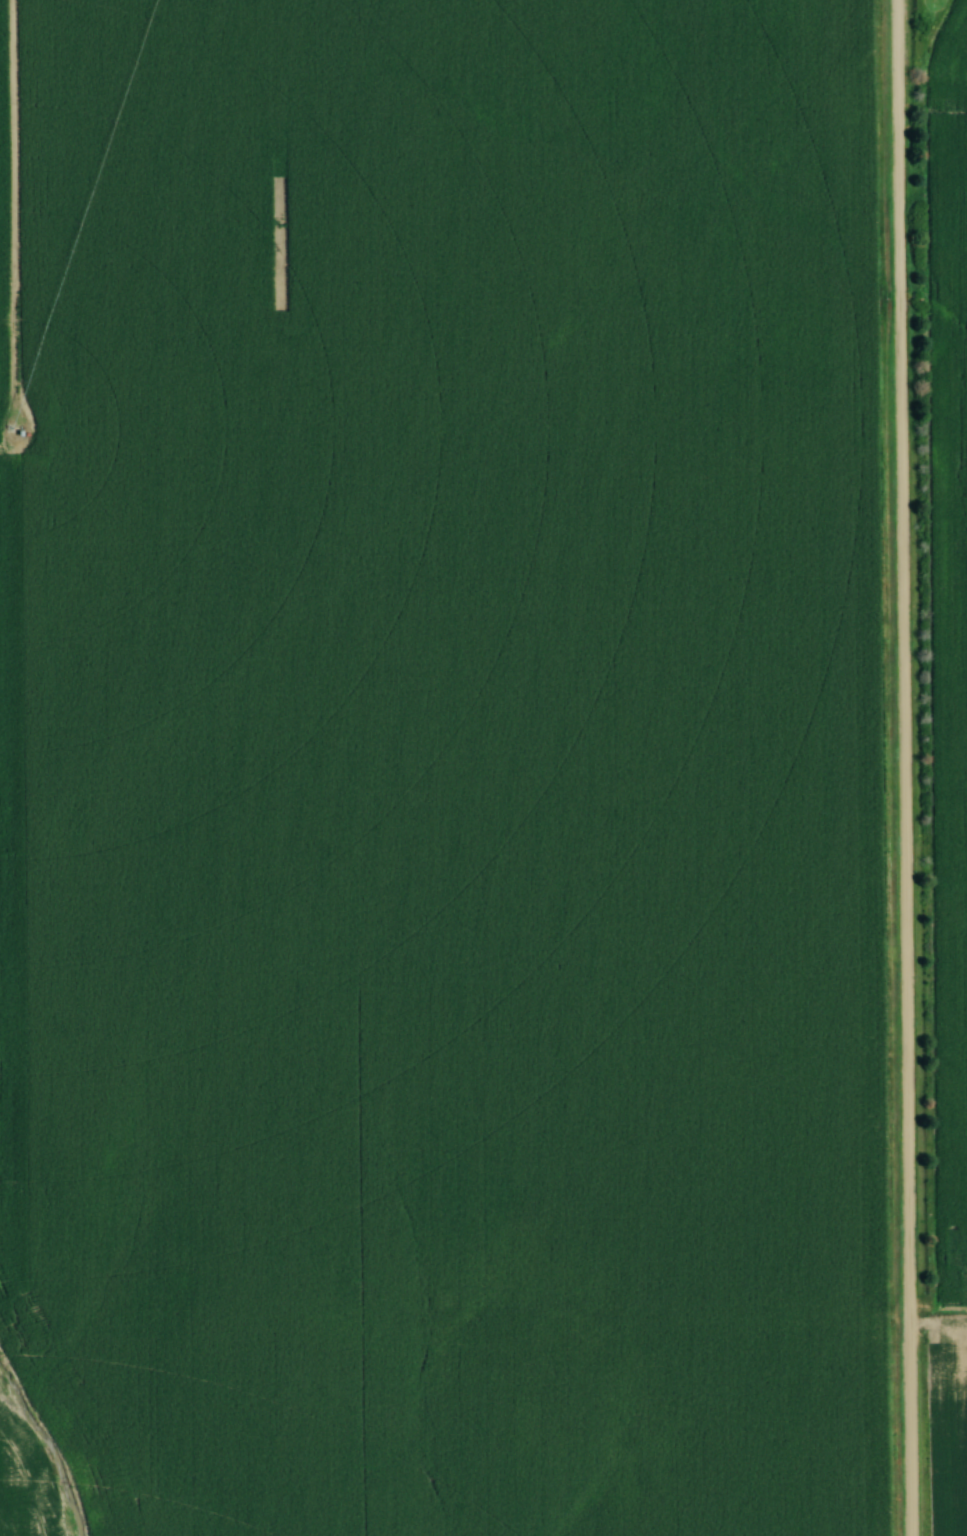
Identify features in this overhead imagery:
road: (901, 767)

